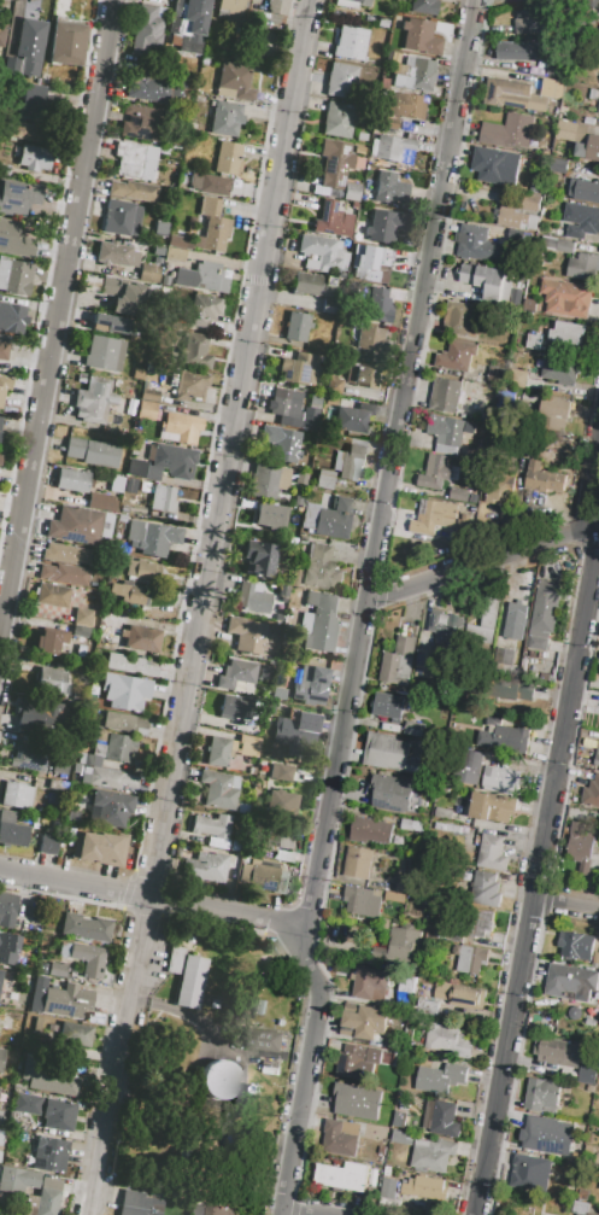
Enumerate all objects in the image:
building: (253, 4)
building: (352, 4)
building: (230, 6)
building: (276, 6)
building: (423, 6)
building: (382, 22)
building: (189, 23)
building: (530, 23)
building: (147, 29)
building: (1, 35)
building: (421, 36)
building: (65, 41)
building: (350, 42)
building: (30, 45)
building: (517, 52)
building: (598, 66)
building: (557, 69)
building: (415, 74)
building: (340, 78)
building: (234, 81)
building: (155, 88)
building: (521, 94)
building: (200, 98)
building: (39, 103)
building: (406, 105)
building: (598, 110)
building: (224, 117)
building: (337, 119)
building: (140, 122)
building: (388, 123)
building: (28, 132)
building: (509, 133)
building: (175, 136)
building: (360, 136)
building: (579, 139)
building: (548, 144)
building: (389, 147)
building: (358, 150)
building: (35, 157)
building: (228, 158)
building: (133, 162)
building: (334, 163)
building: (497, 165)
building: (559, 167)
building: (181, 179)
building: (215, 185)
building: (538, 185)
building: (388, 186)
building: (489, 189)
building: (133, 191)
building: (351, 191)
building: (585, 191)
building: (18, 197)
building: (522, 215)
building: (122, 218)
building: (331, 220)
building: (582, 220)
building: (190, 223)
building: (211, 226)
building: (381, 226)
building: (160, 228)
building: (14, 240)
building: (176, 240)
building: (477, 245)
building: (559, 245)
building: (158, 251)
building: (322, 253)
building: (116, 255)
building: (195, 256)
building: (174, 259)
building: (370, 263)
building: (583, 267)
building: (149, 273)
building: (14, 276)
building: (209, 278)
building: (165, 280)
building: (489, 281)
building: (307, 284)
building: (108, 286)
building: (153, 288)
building: (165, 292)
building: (568, 299)
building: (129, 300)
building: (381, 303)
building: (329, 306)
building: (202, 309)
road: (57, 311)
building: (12, 315)
building: (463, 319)
building: (110, 323)
building: (296, 326)
building: (568, 334)
building: (370, 338)
building: (535, 343)
building: (4, 350)
building: (195, 351)
building: (104, 354)
building: (463, 356)
building: (300, 368)
building: (562, 372)
building: (362, 375)
building: (518, 379)
building: (190, 385)
building: (333, 385)
building: (4, 389)
building: (148, 393)
building: (446, 396)
building: (94, 399)
building: (313, 399)
building: (329, 401)
building: (284, 402)
building: (146, 410)
building: (556, 415)
building: (353, 417)
building: (309, 421)
building: (0, 422)
building: (183, 427)
building: (447, 433)
building: (0, 436)
building: (281, 443)
building: (93, 452)
building: (0, 454)
building: (0, 457)
building: (175, 460)
building: (350, 461)
building: (136, 467)
building: (436, 473)
building: (71, 479)
building: (299, 479)
building: (323, 479)
building: (544, 479)
building: (266, 480)
building: (500, 489)
building: (459, 495)
building: (163, 498)
building: (296, 500)
building: (99, 501)
building: (433, 518)
building: (329, 519)
building: (272, 520)
building: (75, 526)
building: (464, 526)
building: (152, 537)
building: (301, 539)
building: (66, 554)
building: (259, 557)
road: (482, 562)
building: (321, 566)
building: (143, 569)
building: (64, 574)
building: (112, 574)
building: (294, 577)
building: (129, 591)
building: (52, 595)
building: (247, 597)
road: (198, 607)
road: (365, 609)
building: (544, 615)
building: (82, 617)
building: (107, 618)
building: (321, 620)
building: (516, 620)
building: (486, 623)
building: (447, 630)
building: (80, 631)
building: (245, 633)
building: (140, 638)
building: (51, 641)
building: (96, 652)
building: (505, 656)
building: (399, 662)
building: (130, 664)
building: (427, 664)
building: (49, 674)
building: (236, 676)
building: (310, 684)
building: (513, 690)
building: (124, 691)
building: (390, 706)
building: (235, 707)
building: (39, 715)
building: (124, 724)
building: (305, 724)
building: (415, 729)
building: (504, 737)
building: (248, 746)
building: (108, 749)
building: (218, 750)
building: (30, 752)
building: (65, 752)
building: (389, 754)
building: (597, 758)
building: (470, 767)
building: (280, 771)
building: (107, 779)
building: (501, 779)
building: (217, 790)
building: (393, 793)
building: (591, 794)
building: (16, 795)
building: (281, 805)
building: (494, 807)
building: (108, 808)
building: (445, 813)
building: (411, 825)
building: (211, 829)
building: (12, 830)
building: (371, 831)
building: (275, 840)
road: (545, 841)
building: (47, 845)
building: (99, 846)
building: (583, 847)
building: (492, 853)
building: (284, 855)
building: (359, 863)
building: (205, 865)
building: (260, 877)
building: (407, 887)
building: (486, 890)
road: (152, 898)
building: (363, 901)
building: (8, 909)
road: (565, 912)
building: (475, 927)
building: (84, 928)
building: (576, 945)
building: (403, 946)
building: (8, 947)
building: (84, 957)
building: (470, 959)
building: (41, 968)
building: (57, 969)
building: (0, 975)
building: (186, 976)
building: (570, 982)
building: (371, 985)
building: (407, 985)
building: (27, 987)
building: (462, 995)
building: (597, 997)
building: (35, 998)
building: (23, 1000)
building: (66, 1000)
building: (258, 1007)
building: (427, 1009)
building: (575, 1014)
building: (6, 1021)
building: (365, 1021)
building: (36, 1024)
building: (75, 1034)
building: (264, 1040)
building: (448, 1041)
building: (554, 1052)
building: (1, 1059)
building: (352, 1061)
building: (29, 1067)
building: (272, 1069)
building: (587, 1075)
building: (218, 1079)
building: (440, 1079)
building: (598, 1080)
building: (69, 1085)
building: (30, 1086)
building: (541, 1096)
building: (358, 1102)
building: (27, 1104)
building: (58, 1115)
building: (445, 1120)
building: (1, 1137)
building: (547, 1137)
building: (339, 1140)
building: (589, 1150)
building: (429, 1152)
building: (51, 1153)
building: (0, 1155)
building: (597, 1159)
building: (530, 1172)
building: (343, 1176)
building: (19, 1180)
building: (51, 1182)
building: (413, 1188)
building: (42, 1202)
building: (137, 1203)
building: (217, 1207)
road: (292, 1213)
building: (579, 1214)
building: (591, 1214)

